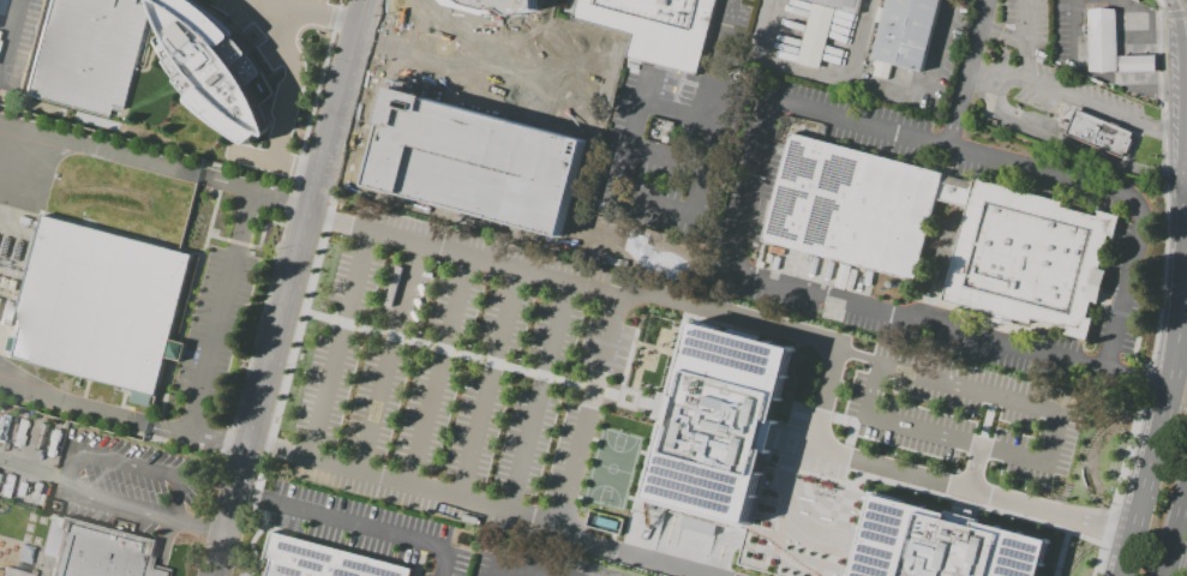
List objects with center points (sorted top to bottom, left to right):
road: (401, 1)
road: (274, 2)
road: (97, 6)
building: (528, 6)
road: (1159, 6)
road: (1173, 13)
road: (359, 18)
road: (779, 25)
building: (820, 28)
building: (655, 30)
road: (850, 30)
road: (1075, 30)
road: (1155, 30)
road: (1003, 34)
road: (8, 36)
building: (904, 36)
building: (1102, 40)
road: (813, 44)
road: (1026, 46)
road: (936, 47)
building: (85, 53)
parking garage: (85, 53)
road: (1133, 55)
road: (1181, 55)
road: (713, 60)
building: (1135, 64)
gas station: (1135, 64)
building: (212, 67)
road: (292, 70)
road: (865, 71)
road: (969, 73)
road: (987, 79)
road: (83, 84)
road: (637, 107)
road: (995, 108)
road: (667, 112)
building: (1099, 136)
road: (960, 149)
road: (667, 156)
road: (257, 157)
road: (707, 166)
road: (750, 185)
road: (302, 205)
building: (856, 206)
road: (320, 236)
building: (1027, 258)
road: (1122, 286)
road: (1159, 298)
building: (97, 306)
road: (282, 306)
road: (750, 319)
road: (931, 324)
road: (385, 354)
road: (437, 367)
road: (1149, 378)
road: (486, 379)
road: (538, 394)
road: (867, 398)
road: (587, 407)
road: (1161, 410)
building: (717, 424)
road: (839, 456)
road: (73, 457)
road: (1173, 520)
road: (352, 523)
road: (197, 524)
building: (50, 536)
building: (959, 545)
road: (163, 547)
building: (101, 551)
road: (635, 554)
building: (308, 559)
road: (1123, 563)
road: (514, 569)

